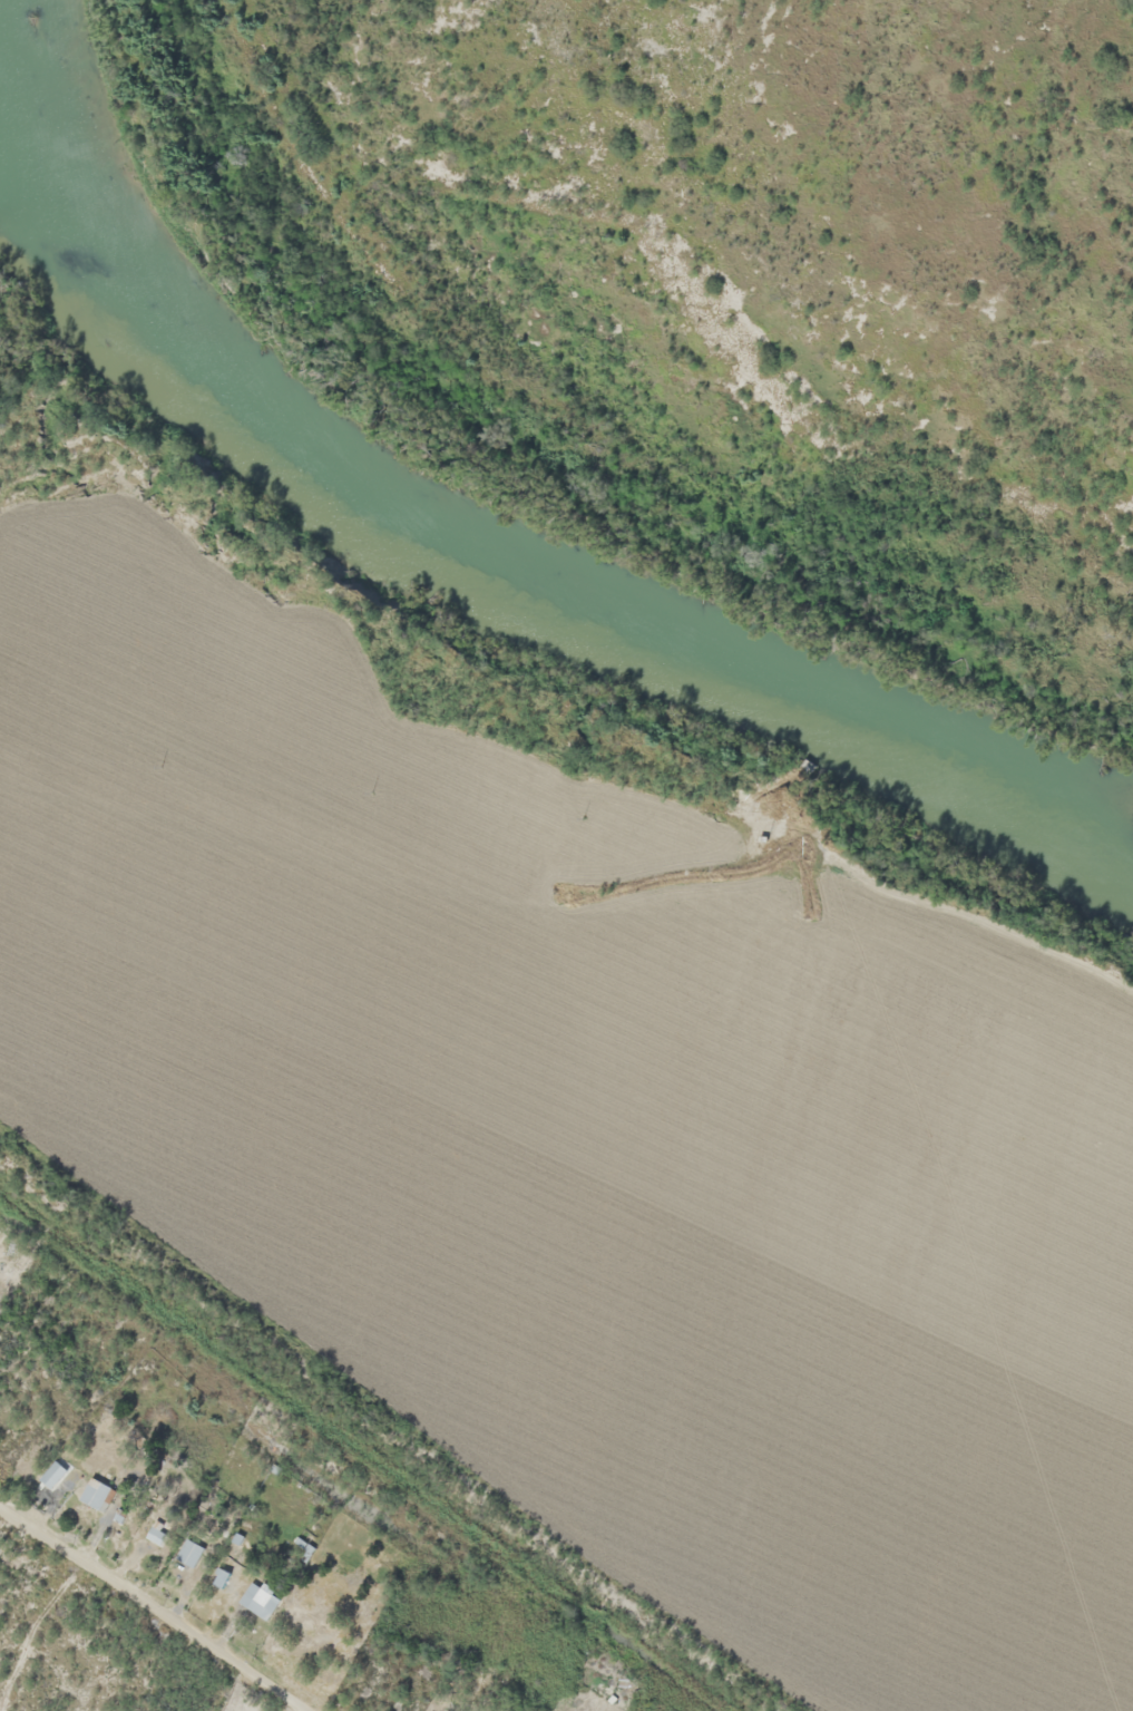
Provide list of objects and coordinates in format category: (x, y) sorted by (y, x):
river: (458, 551)
building: (59, 1470)
building: (196, 1548)
road: (155, 1606)

